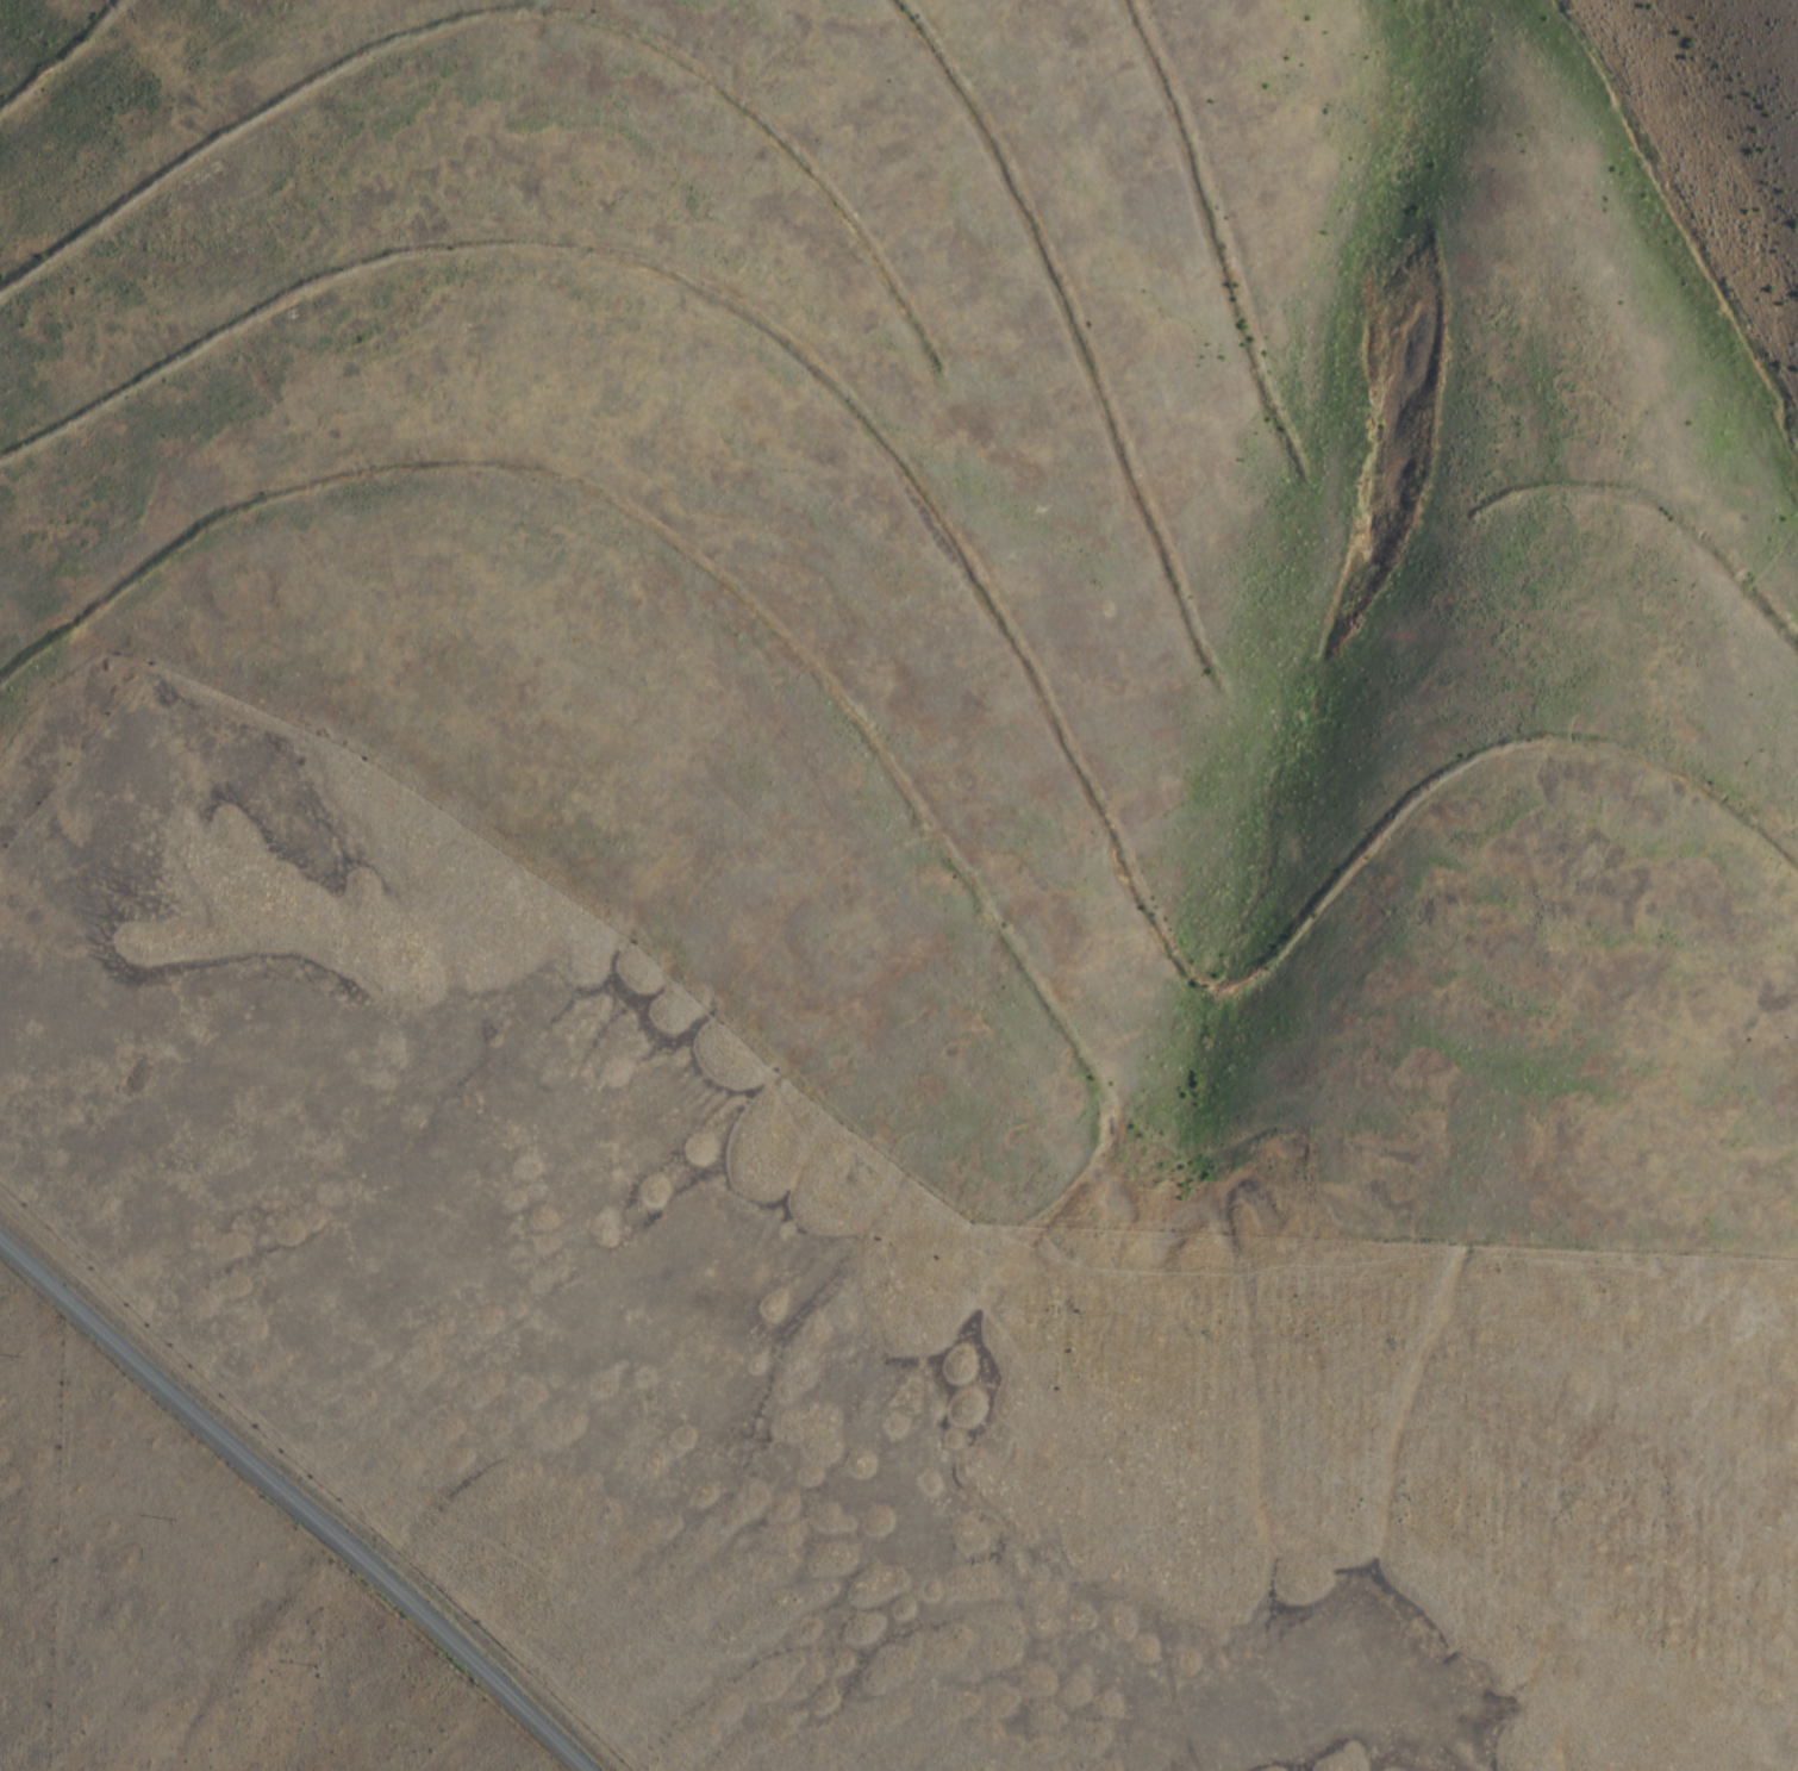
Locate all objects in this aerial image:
road: (294, 1495)

